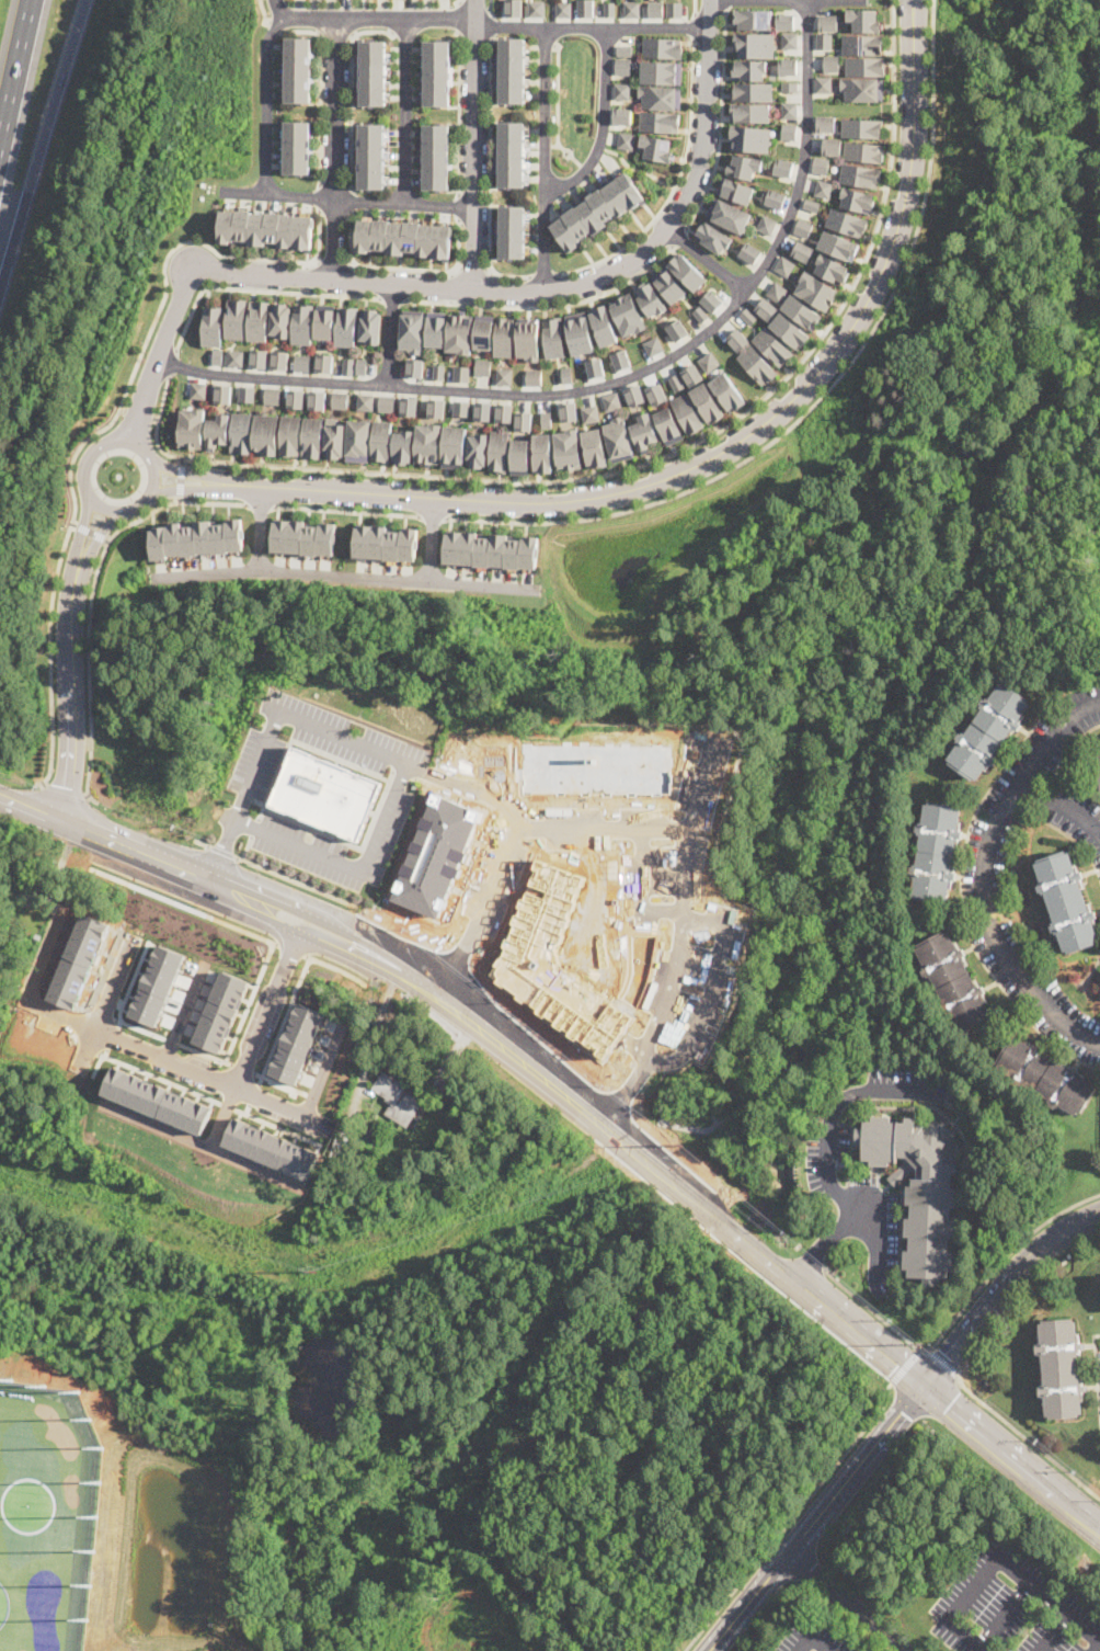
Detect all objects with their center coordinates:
road: (783, 0)
road: (362, 3)
road: (724, 5)
road: (489, 7)
building: (513, 8)
road: (694, 8)
road: (275, 9)
building: (535, 9)
building: (562, 9)
building: (583, 9)
building: (607, 9)
building: (630, 9)
building: (654, 9)
building: (673, 10)
road: (262, 11)
road: (375, 19)
building: (753, 19)
building: (864, 20)
building: (784, 22)
building: (828, 22)
road: (273, 25)
road: (588, 27)
road: (692, 27)
building: (790, 41)
building: (824, 42)
building: (862, 44)
building: (755, 45)
building: (661, 48)
building: (622, 50)
building: (832, 64)
building: (621, 66)
building: (788, 66)
building: (866, 66)
building: (298, 69)
building: (749, 69)
building: (511, 70)
building: (660, 71)
road: (15, 72)
building: (437, 72)
building: (373, 73)
building: (824, 84)
building: (790, 86)
road: (319, 87)
building: (862, 88)
road: (350, 91)
building: (620, 91)
building: (752, 91)
building: (658, 96)
park: (571, 101)
road: (265, 104)
road: (557, 109)
building: (789, 110)
road: (404, 111)
road: (458, 112)
building: (750, 112)
building: (620, 116)
building: (657, 122)
road: (601, 123)
road: (719, 123)
building: (825, 123)
building: (861, 127)
building: (788, 132)
building: (748, 138)
building: (625, 140)
road: (43, 141)
road: (473, 144)
building: (832, 146)
building: (298, 147)
building: (655, 148)
road: (335, 149)
building: (862, 151)
building: (511, 155)
building: (371, 156)
building: (436, 157)
road: (542, 157)
building: (820, 164)
building: (743, 166)
building: (782, 167)
road: (638, 170)
road: (488, 174)
building: (859, 175)
road: (673, 187)
building: (823, 189)
building: (734, 190)
road: (320, 195)
building: (775, 198)
road: (348, 200)
building: (857, 200)
road: (350, 201)
building: (811, 204)
road: (457, 206)
building: (596, 210)
building: (727, 215)
building: (846, 221)
building: (766, 225)
building: (803, 228)
building: (267, 229)
building: (512, 231)
road: (679, 237)
building: (713, 237)
building: (404, 238)
building: (838, 246)
building: (802, 251)
building: (748, 252)
road: (333, 261)
road: (707, 261)
building: (784, 265)
road: (404, 267)
building: (832, 269)
road: (471, 271)
building: (686, 272)
road: (543, 274)
building: (668, 285)
road: (468, 288)
road: (257, 289)
building: (816, 291)
building: (778, 292)
road: (392, 299)
building: (651, 299)
building: (711, 300)
road: (547, 307)
building: (766, 308)
building: (801, 311)
building: (700, 314)
building: (627, 315)
building: (748, 316)
building: (237, 318)
building: (259, 320)
building: (282, 320)
building: (325, 321)
building: (303, 323)
building: (214, 326)
building: (346, 326)
building: (371, 326)
building: (603, 326)
building: (435, 329)
building: (677, 330)
building: (412, 331)
building: (484, 331)
building: (789, 331)
building: (459, 332)
road: (390, 333)
building: (578, 333)
building: (503, 335)
building: (553, 337)
building: (528, 339)
building: (738, 339)
building: (653, 345)
building: (772, 346)
building: (218, 356)
building: (237, 357)
building: (260, 357)
building: (282, 360)
building: (620, 360)
road: (171, 362)
building: (325, 362)
building: (709, 362)
building: (303, 363)
building: (757, 364)
building: (350, 365)
building: (362, 365)
building: (414, 367)
building: (482, 367)
building: (595, 367)
building: (438, 372)
building: (461, 373)
building: (566, 375)
building: (692, 375)
building: (504, 376)
building: (534, 377)
road: (619, 380)
building: (676, 382)
building: (199, 390)
building: (727, 391)
road: (826, 391)
building: (225, 394)
building: (248, 394)
building: (634, 394)
building: (656, 394)
building: (273, 396)
building: (297, 398)
building: (319, 400)
building: (341, 400)
building: (366, 401)
building: (612, 401)
building: (387, 402)
building: (707, 402)
building: (409, 405)
building: (436, 408)
building: (462, 408)
building: (483, 411)
building: (504, 411)
building: (569, 411)
road: (138, 413)
building: (591, 413)
building: (687, 413)
building: (547, 419)
building: (524, 421)
road: (108, 423)
building: (668, 425)
building: (192, 428)
building: (218, 431)
building: (242, 432)
building: (644, 432)
building: (266, 433)
building: (290, 435)
building: (313, 436)
building: (334, 439)
building: (619, 439)
road: (99, 440)
building: (381, 440)
building: (358, 441)
building: (427, 443)
road: (734, 444)
building: (403, 446)
building: (454, 446)
building: (594, 447)
building: (477, 449)
building: (569, 449)
building: (499, 451)
building: (542, 453)
building: (520, 456)
road: (648, 463)
road: (195, 475)
road: (180, 479)
road: (195, 488)
road: (261, 504)
road: (347, 511)
road: (433, 516)
road: (260, 527)
road: (90, 532)
road: (81, 534)
building: (305, 537)
road: (94, 538)
building: (197, 538)
road: (432, 538)
building: (386, 543)
building: (491, 550)
road: (345, 574)
road: (92, 596)
road: (72, 693)
building: (988, 731)
parking lot: (259, 760)
road: (409, 760)
building: (1098, 771)
road: (65, 792)
parking lot: (398, 792)
building: (326, 794)
road: (1061, 804)
road: (30, 807)
road: (202, 844)
road: (248, 850)
road: (222, 851)
road: (222, 853)
building: (936, 853)
road: (505, 854)
road: (182, 870)
road: (984, 874)
road: (296, 884)
building: (28, 889)
building: (1066, 902)
road: (244, 931)
road: (293, 949)
road: (337, 968)
building: (953, 981)
building: (158, 984)
road: (105, 1000)
road: (248, 1001)
road: (268, 1004)
building: (220, 1011)
road: (183, 1012)
road: (283, 1018)
building: (297, 1043)
road: (204, 1052)
road: (241, 1068)
road: (204, 1073)
building: (1045, 1075)
road: (278, 1083)
road: (253, 1093)
building: (158, 1100)
building: (397, 1100)
road: (247, 1108)
road: (222, 1116)
road: (276, 1126)
building: (374, 1135)
road: (622, 1142)
road: (203, 1143)
power tower: (679, 1146)
building: (271, 1148)
road: (827, 1157)
building: (919, 1187)
road: (879, 1238)
power tower: (306, 1265)
road: (1001, 1287)
road: (960, 1311)
power tower: (916, 1343)
road: (942, 1362)
road: (904, 1365)
building: (1061, 1368)
traffic signals: (927, 1386)
road: (942, 1398)
road: (908, 1405)
road: (1023, 1436)
road: (878, 1445)
road: (1012, 1456)
park: (45, 1515)
road: (791, 1517)
road: (1001, 1559)
road: (768, 1576)
road: (844, 1603)
parking lot: (1012, 1607)
road: (1005, 1615)
road: (1056, 1633)
road: (812, 1639)
parking lot: (813, 1639)
road: (1099, 1650)

